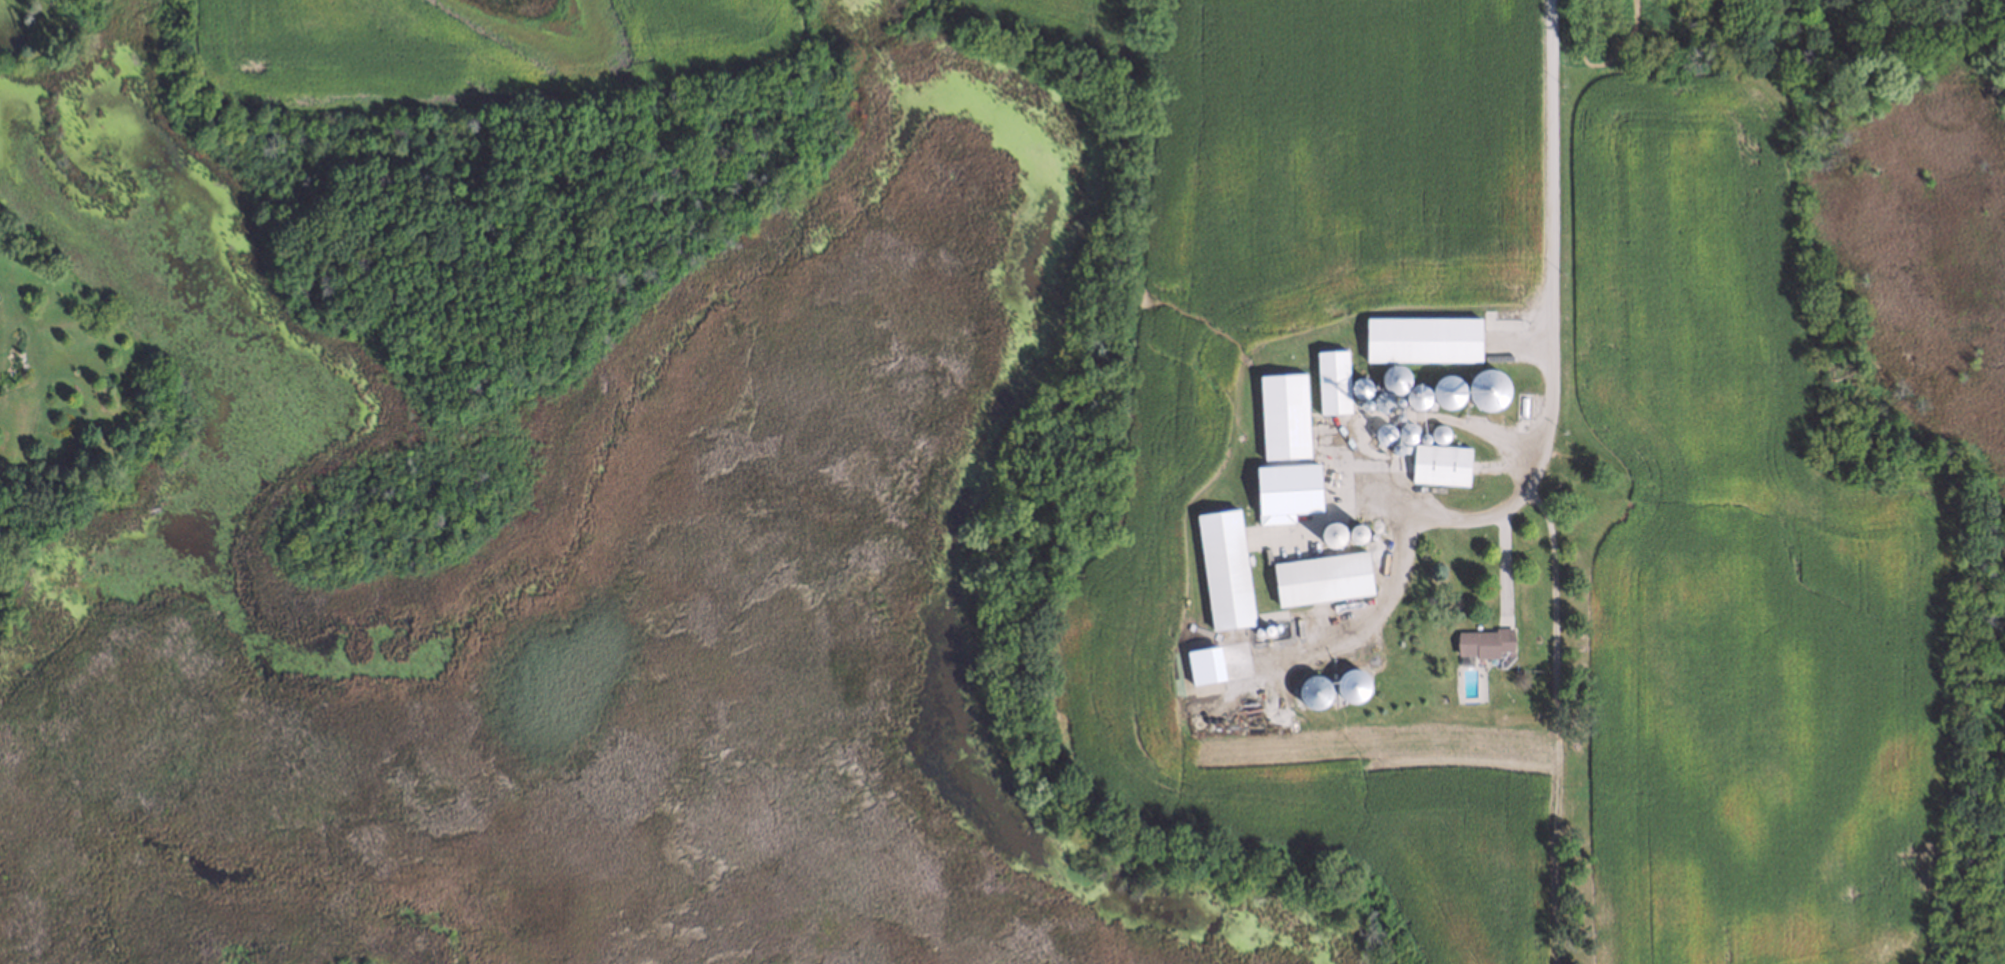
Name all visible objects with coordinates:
building: (1947, 4)
road: (1546, 308)
building: (1420, 338)
building: (1330, 380)
building: (1393, 381)
building: (1358, 390)
building: (1487, 393)
building: (1447, 395)
building: (1416, 399)
building: (1380, 404)
building: (1281, 415)
building: (1405, 433)
building: (1383, 435)
building: (1437, 435)
building: (1395, 451)
building: (1438, 464)
building: (1285, 489)
building: (1331, 533)
building: (1356, 533)
road: (1505, 562)
building: (1221, 572)
building: (1319, 577)
building: (1481, 644)
building: (1351, 683)
building: (1313, 688)

